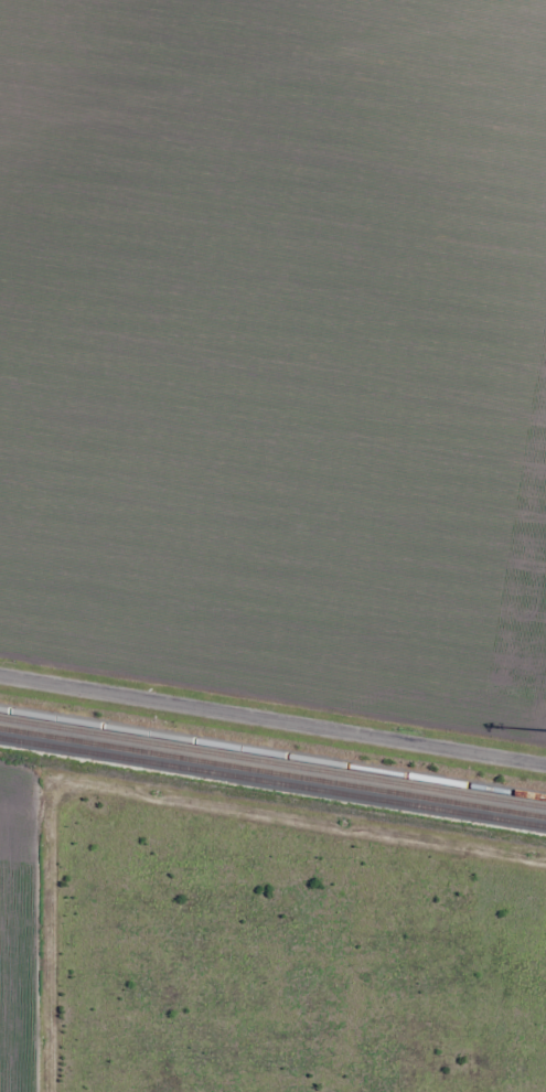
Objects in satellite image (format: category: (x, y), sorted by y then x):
crop: (278, 349)
road: (272, 720)
railway: (272, 758)
railway: (272, 770)

